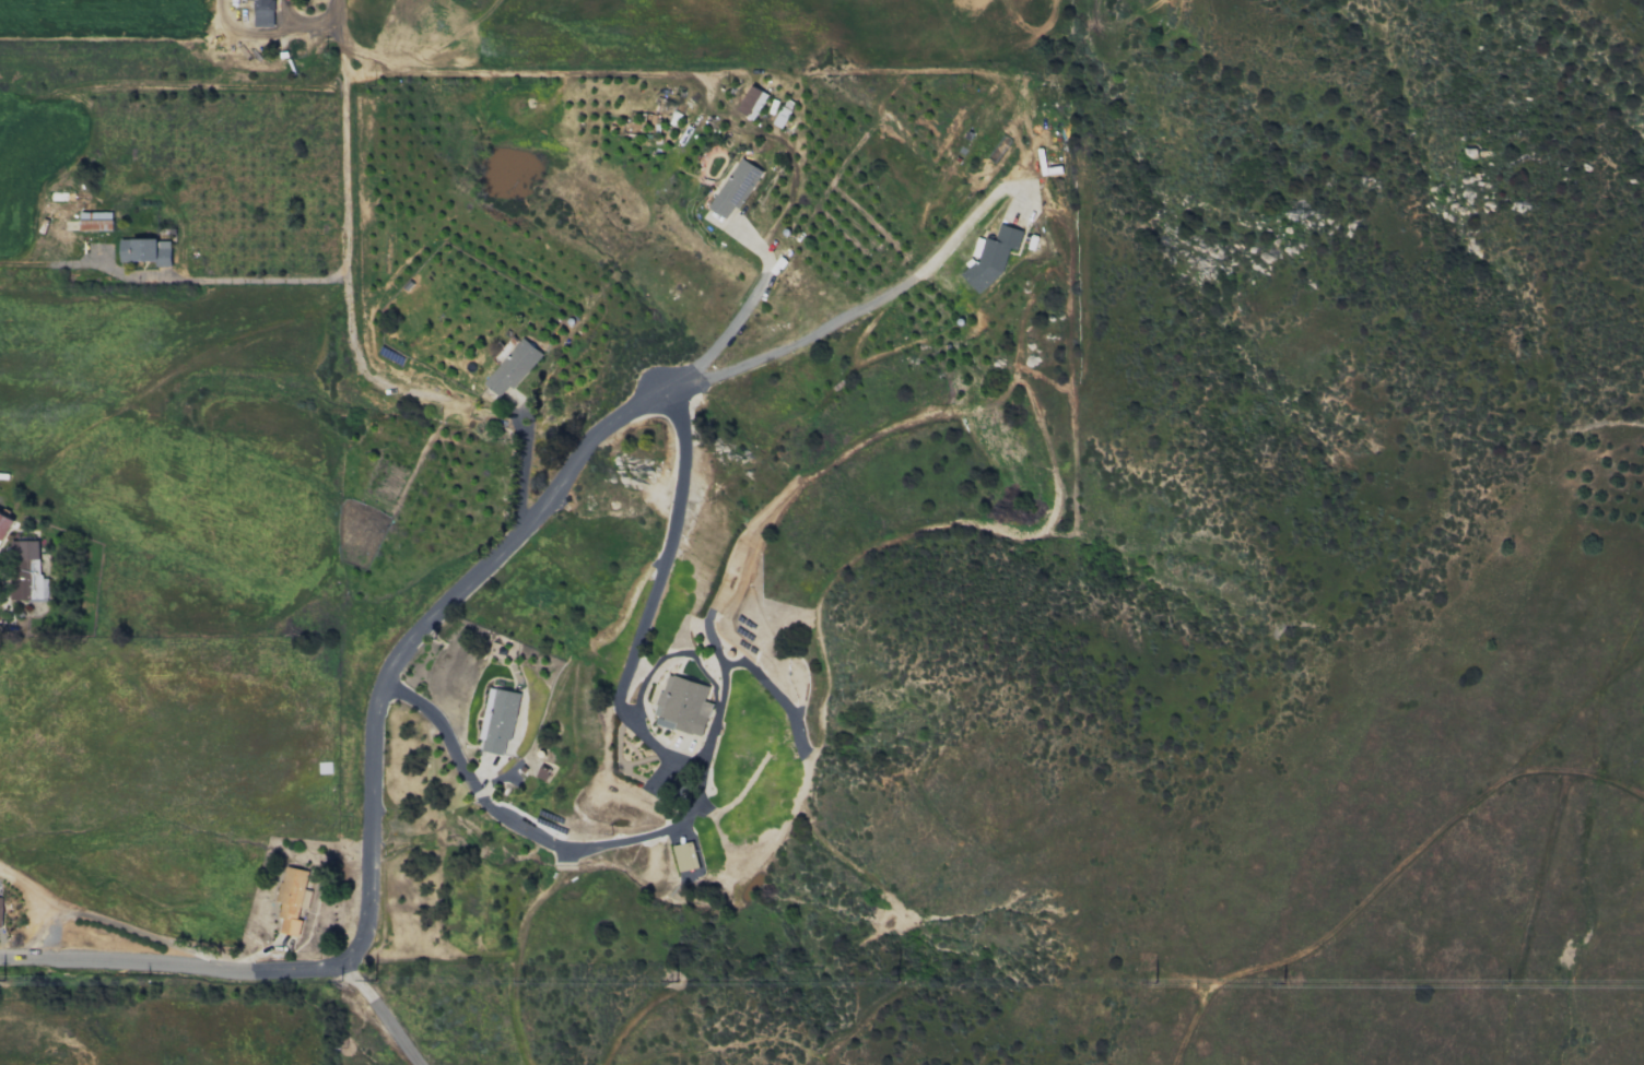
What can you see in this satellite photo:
building: (262, 13)
road: (284, 16)
road: (272, 31)
road: (524, 82)
road: (109, 86)
building: (751, 102)
road: (341, 138)
building: (733, 188)
building: (68, 196)
building: (95, 221)
building: (145, 250)
building: (990, 256)
road: (171, 281)
road: (726, 311)
road: (843, 319)
road: (359, 364)
building: (513, 366)
road: (518, 468)
building: (4, 523)
building: (26, 571)
road: (26, 630)
road: (412, 638)
road: (670, 654)
road: (720, 690)
road: (773, 693)
building: (682, 705)
building: (497, 720)
road: (698, 768)
building: (684, 855)
road: (1389, 880)
building: (291, 899)
building: (0, 910)
road: (176, 971)
road: (388, 1018)

